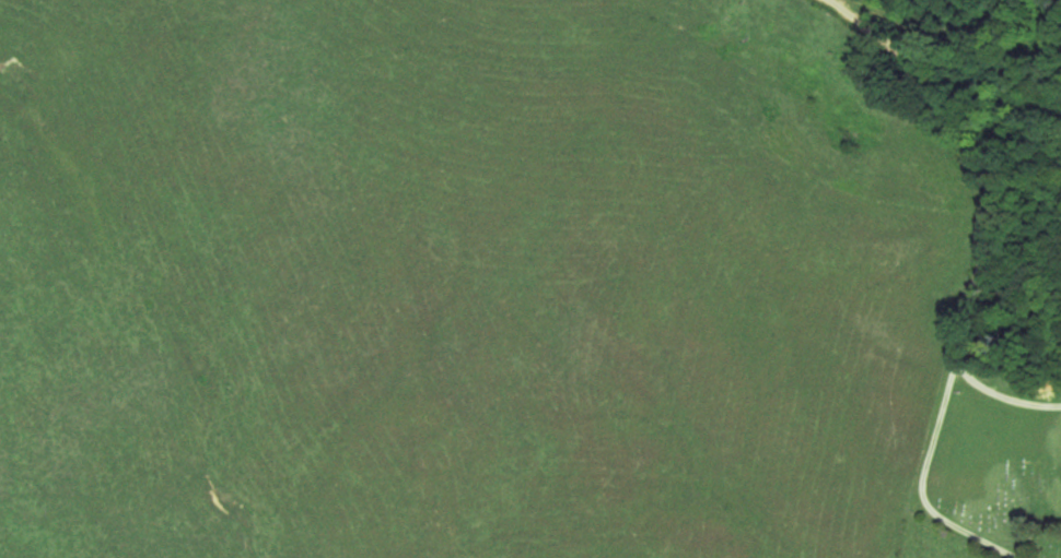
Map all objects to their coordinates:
road: (935, 68)
road: (989, 213)
park: (992, 458)

